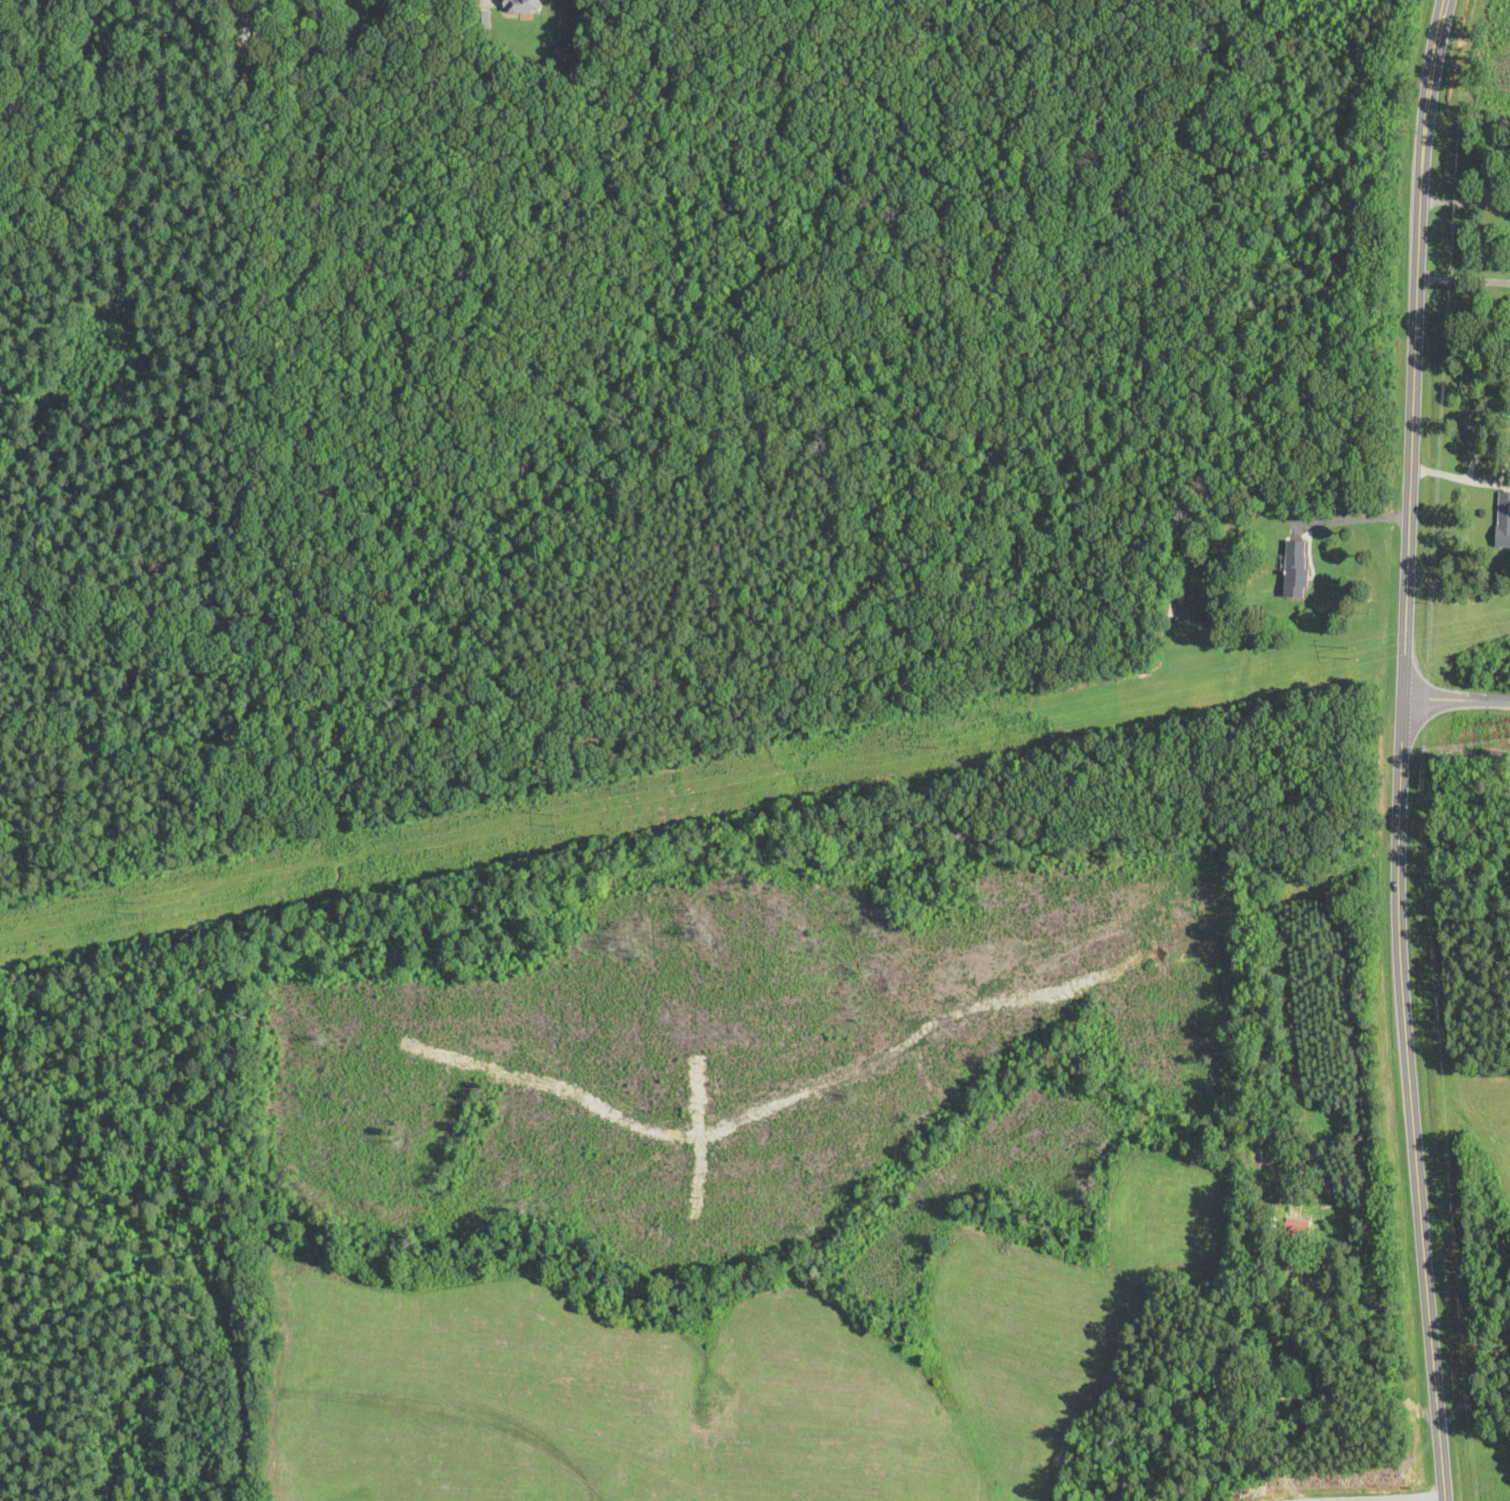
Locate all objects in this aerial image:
building: (523, 6)
road: (1416, 348)
building: (1503, 521)
building: (1296, 570)
building: (1178, 609)
power tower: (1355, 653)
road: (1457, 699)
power tower: (941, 745)
power tower: (564, 822)
power tower: (146, 908)
road: (1411, 1100)
building: (1297, 1223)

